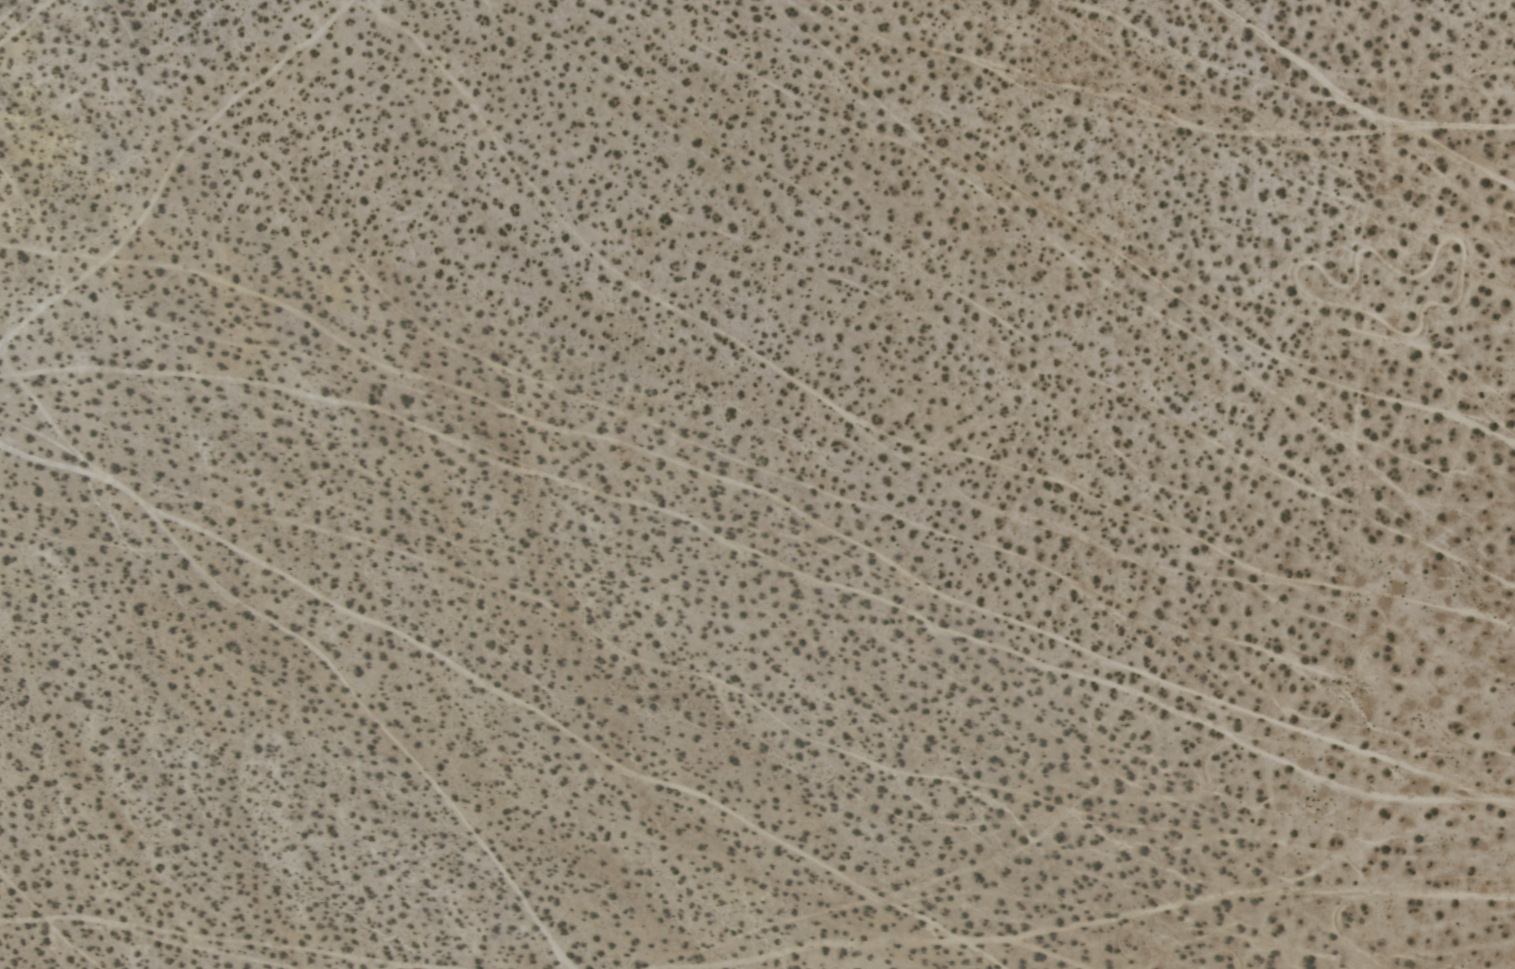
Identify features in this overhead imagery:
crop: (757, 484)
road: (1405, 802)

